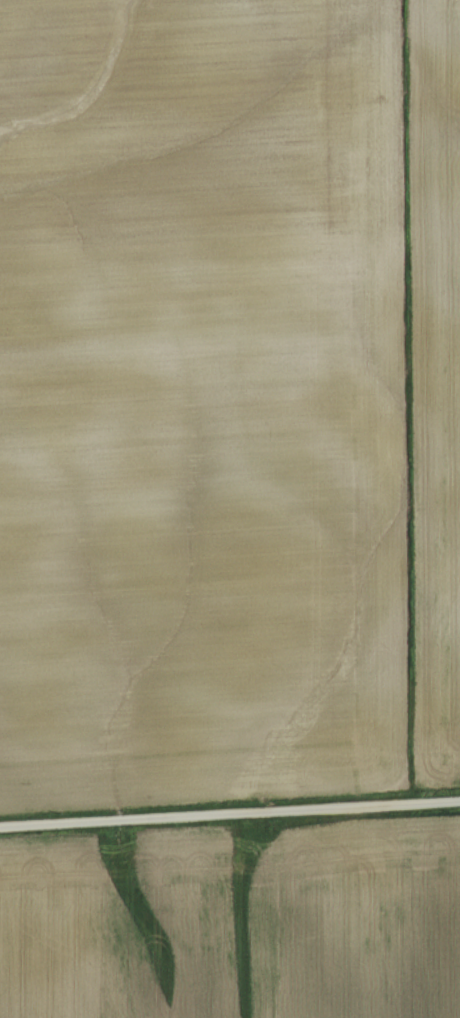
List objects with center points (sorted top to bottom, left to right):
road: (230, 813)

